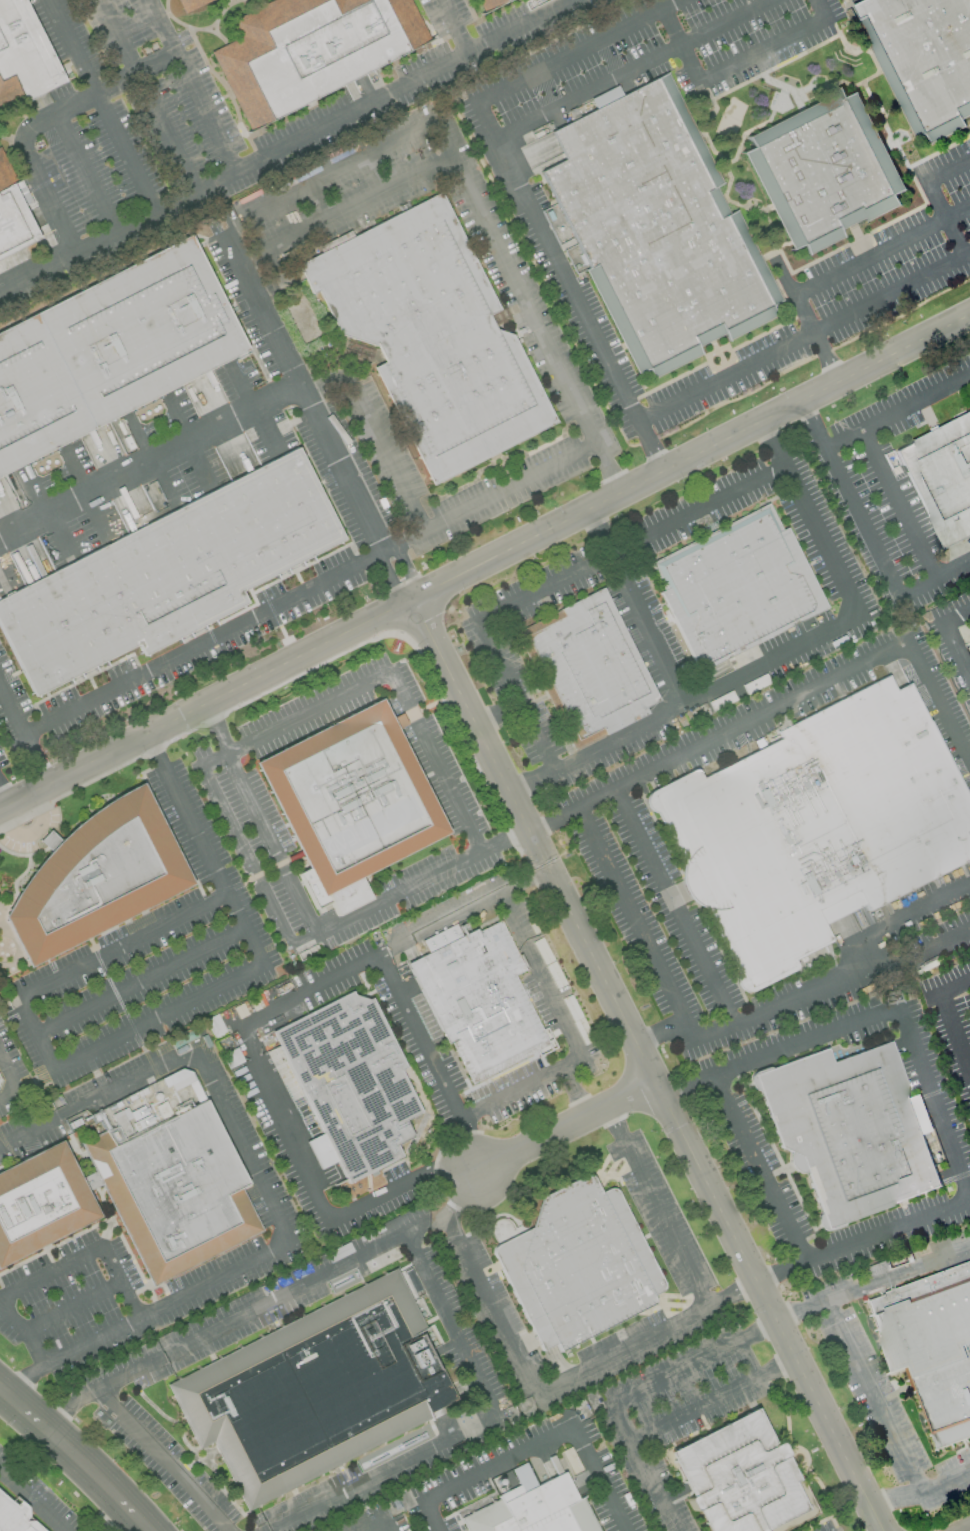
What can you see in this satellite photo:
building: (488, 3)
building: (187, 4)
road: (821, 10)
road: (456, 27)
road: (680, 45)
road: (576, 49)
building: (309, 50)
road: (761, 52)
building: (923, 59)
building: (24, 60)
road: (630, 69)
road: (425, 77)
road: (191, 87)
road: (97, 89)
road: (146, 96)
road: (102, 106)
building: (823, 170)
road: (949, 170)
road: (88, 171)
road: (471, 189)
road: (51, 191)
road: (364, 201)
building: (13, 216)
road: (946, 217)
road: (136, 223)
building: (653, 226)
road: (264, 230)
road: (883, 252)
road: (556, 259)
road: (808, 321)
road: (803, 335)
building: (430, 336)
building: (109, 350)
road: (302, 391)
road: (897, 411)
road: (809, 413)
road: (373, 434)
road: (650, 445)
road: (691, 457)
road: (150, 462)
road: (610, 466)
building: (942, 478)
road: (491, 496)
road: (900, 502)
road: (875, 544)
road: (407, 566)
building: (167, 574)
road: (385, 578)
road: (557, 579)
building: (736, 587)
road: (645, 628)
road: (950, 633)
road: (202, 640)
road: (779, 651)
building: (587, 668)
road: (806, 690)
road: (206, 704)
road: (426, 708)
road: (10, 711)
road: (283, 724)
road: (33, 758)
road: (5, 793)
building: (350, 797)
parking lot: (239, 801)
road: (556, 818)
building: (816, 826)
parking lot: (31, 832)
road: (32, 832)
road: (204, 847)
road: (27, 866)
road: (191, 872)
building: (96, 877)
road: (523, 877)
road: (192, 881)
road: (678, 906)
road: (313, 924)
road: (637, 924)
road: (913, 955)
parking lot: (146, 957)
road: (368, 958)
road: (540, 972)
road: (841, 976)
road: (140, 981)
building: (477, 998)
road: (946, 1021)
road: (35, 1033)
road: (662, 1034)
road: (417, 1036)
road: (144, 1051)
road: (648, 1064)
road: (10, 1073)
building: (351, 1082)
road: (520, 1085)
road: (573, 1089)
road: (933, 1092)
road: (10, 1097)
road: (96, 1098)
road: (286, 1123)
road: (563, 1124)
building: (850, 1130)
road: (465, 1143)
road: (241, 1146)
road: (761, 1168)
road: (400, 1185)
building: (175, 1191)
road: (462, 1196)
building: (40, 1202)
road: (427, 1228)
building: (578, 1265)
road: (873, 1281)
road: (118, 1283)
building: (409, 1283)
road: (16, 1290)
road: (0, 1298)
road: (165, 1304)
road: (70, 1308)
road: (221, 1328)
road: (642, 1337)
building: (931, 1347)
road: (693, 1360)
road: (25, 1379)
building: (314, 1389)
road: (872, 1395)
road: (712, 1398)
road: (463, 1423)
road: (77, 1455)
road: (165, 1460)
road: (498, 1461)
road: (642, 1467)
road: (597, 1477)
building: (738, 1477)
road: (946, 1482)
road: (895, 1497)
road: (33, 1498)
building: (535, 1511)
road: (432, 1515)
building: (15, 1517)
road: (116, 1518)
road: (379, 1522)
road: (968, 1530)

